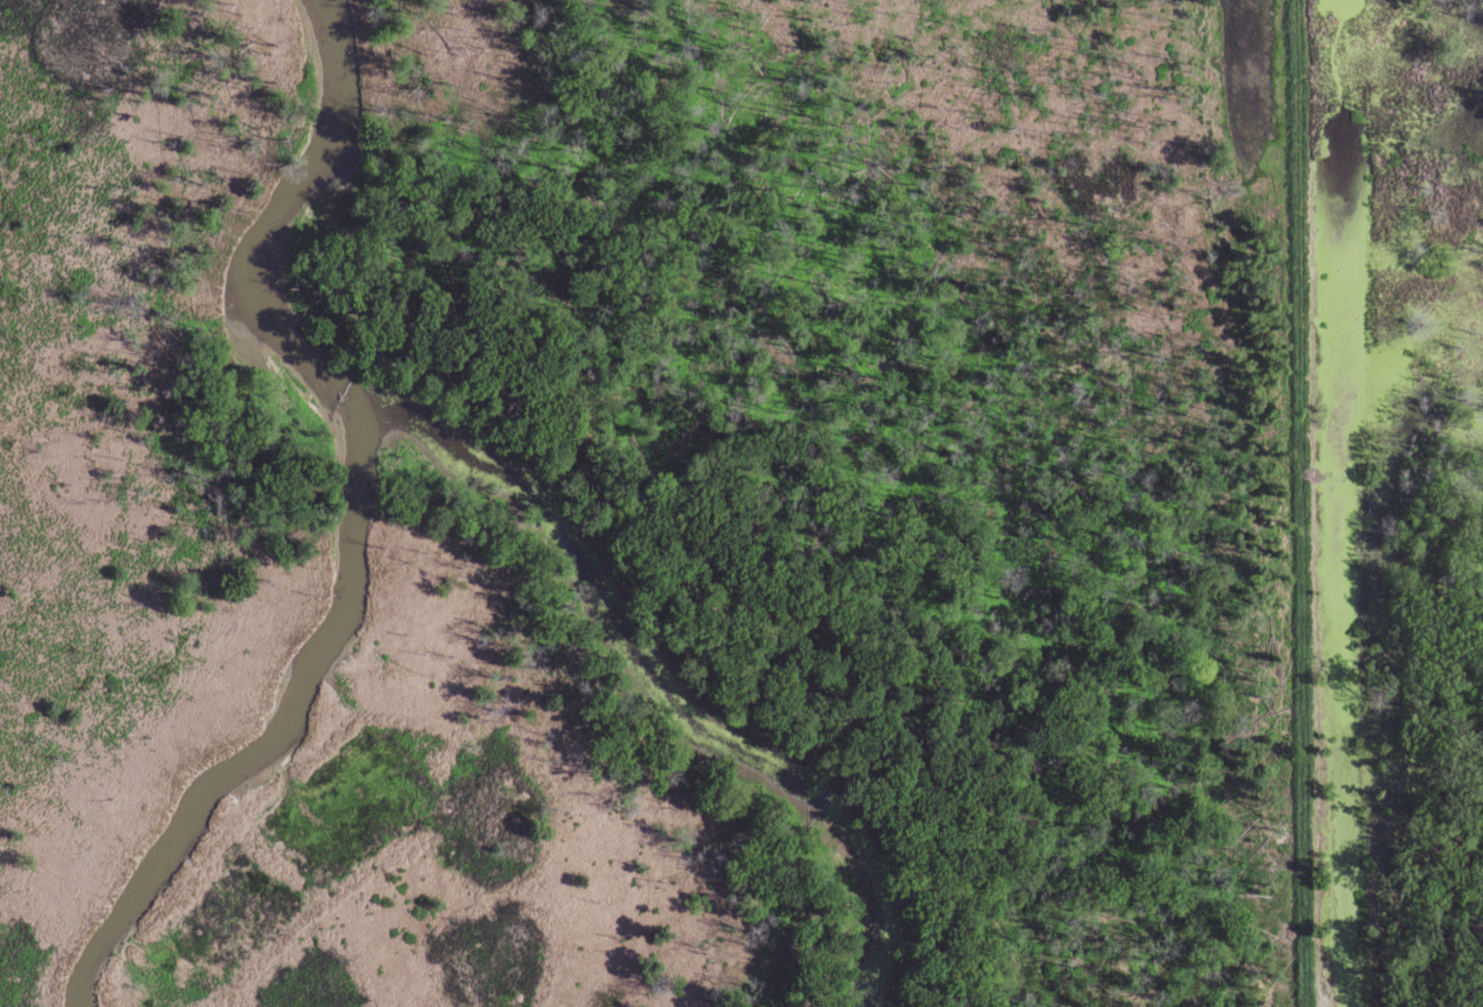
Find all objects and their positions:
road: (1291, 503)

